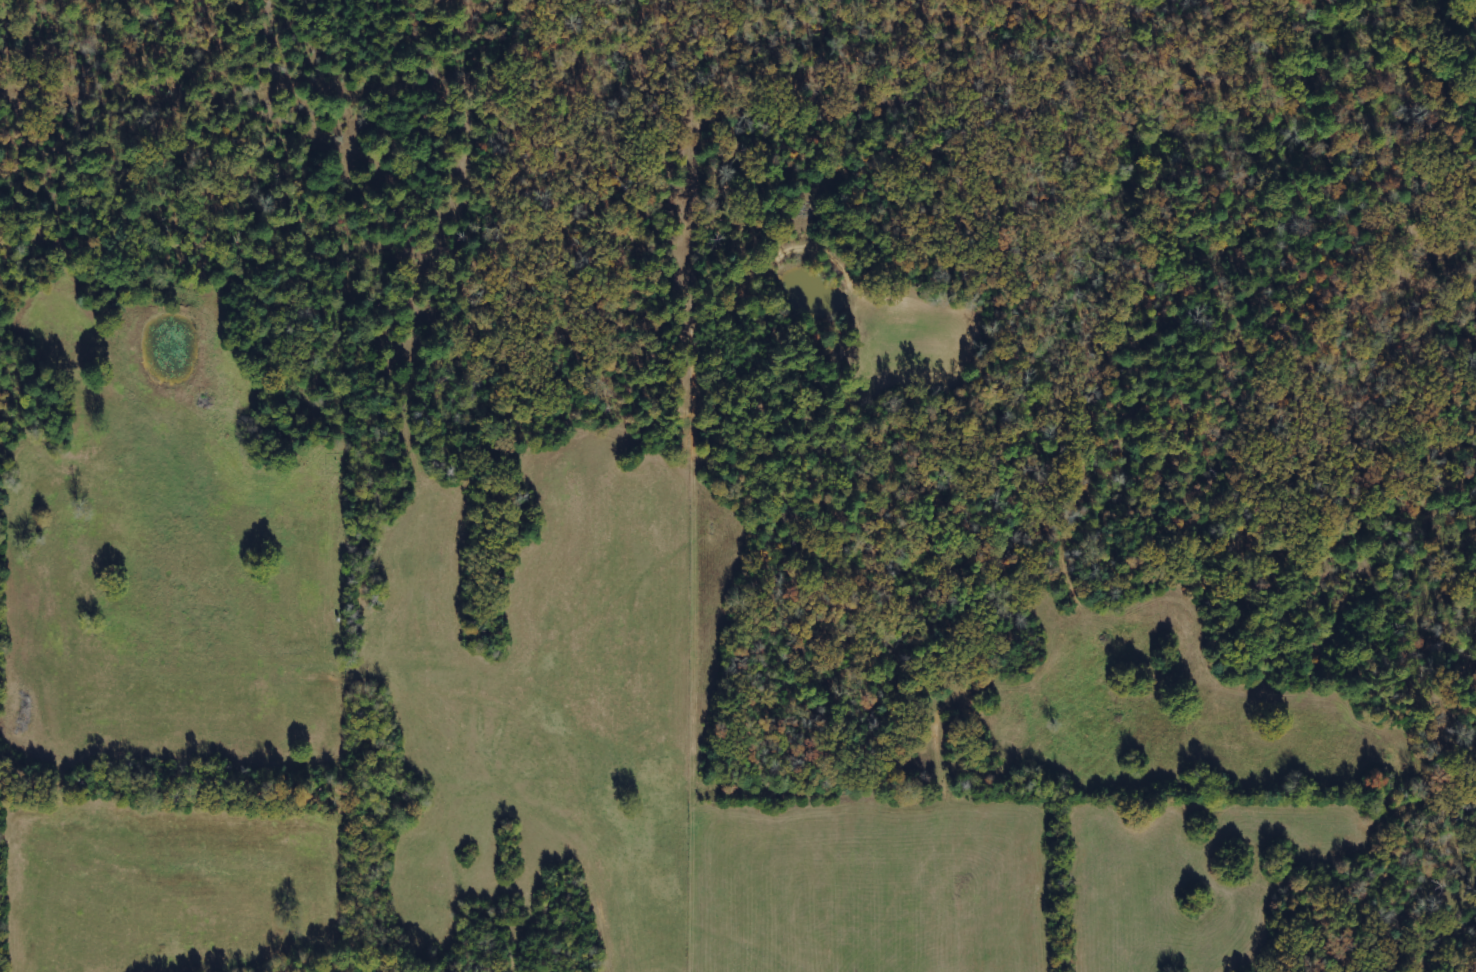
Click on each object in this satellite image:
park: (1455, 958)

